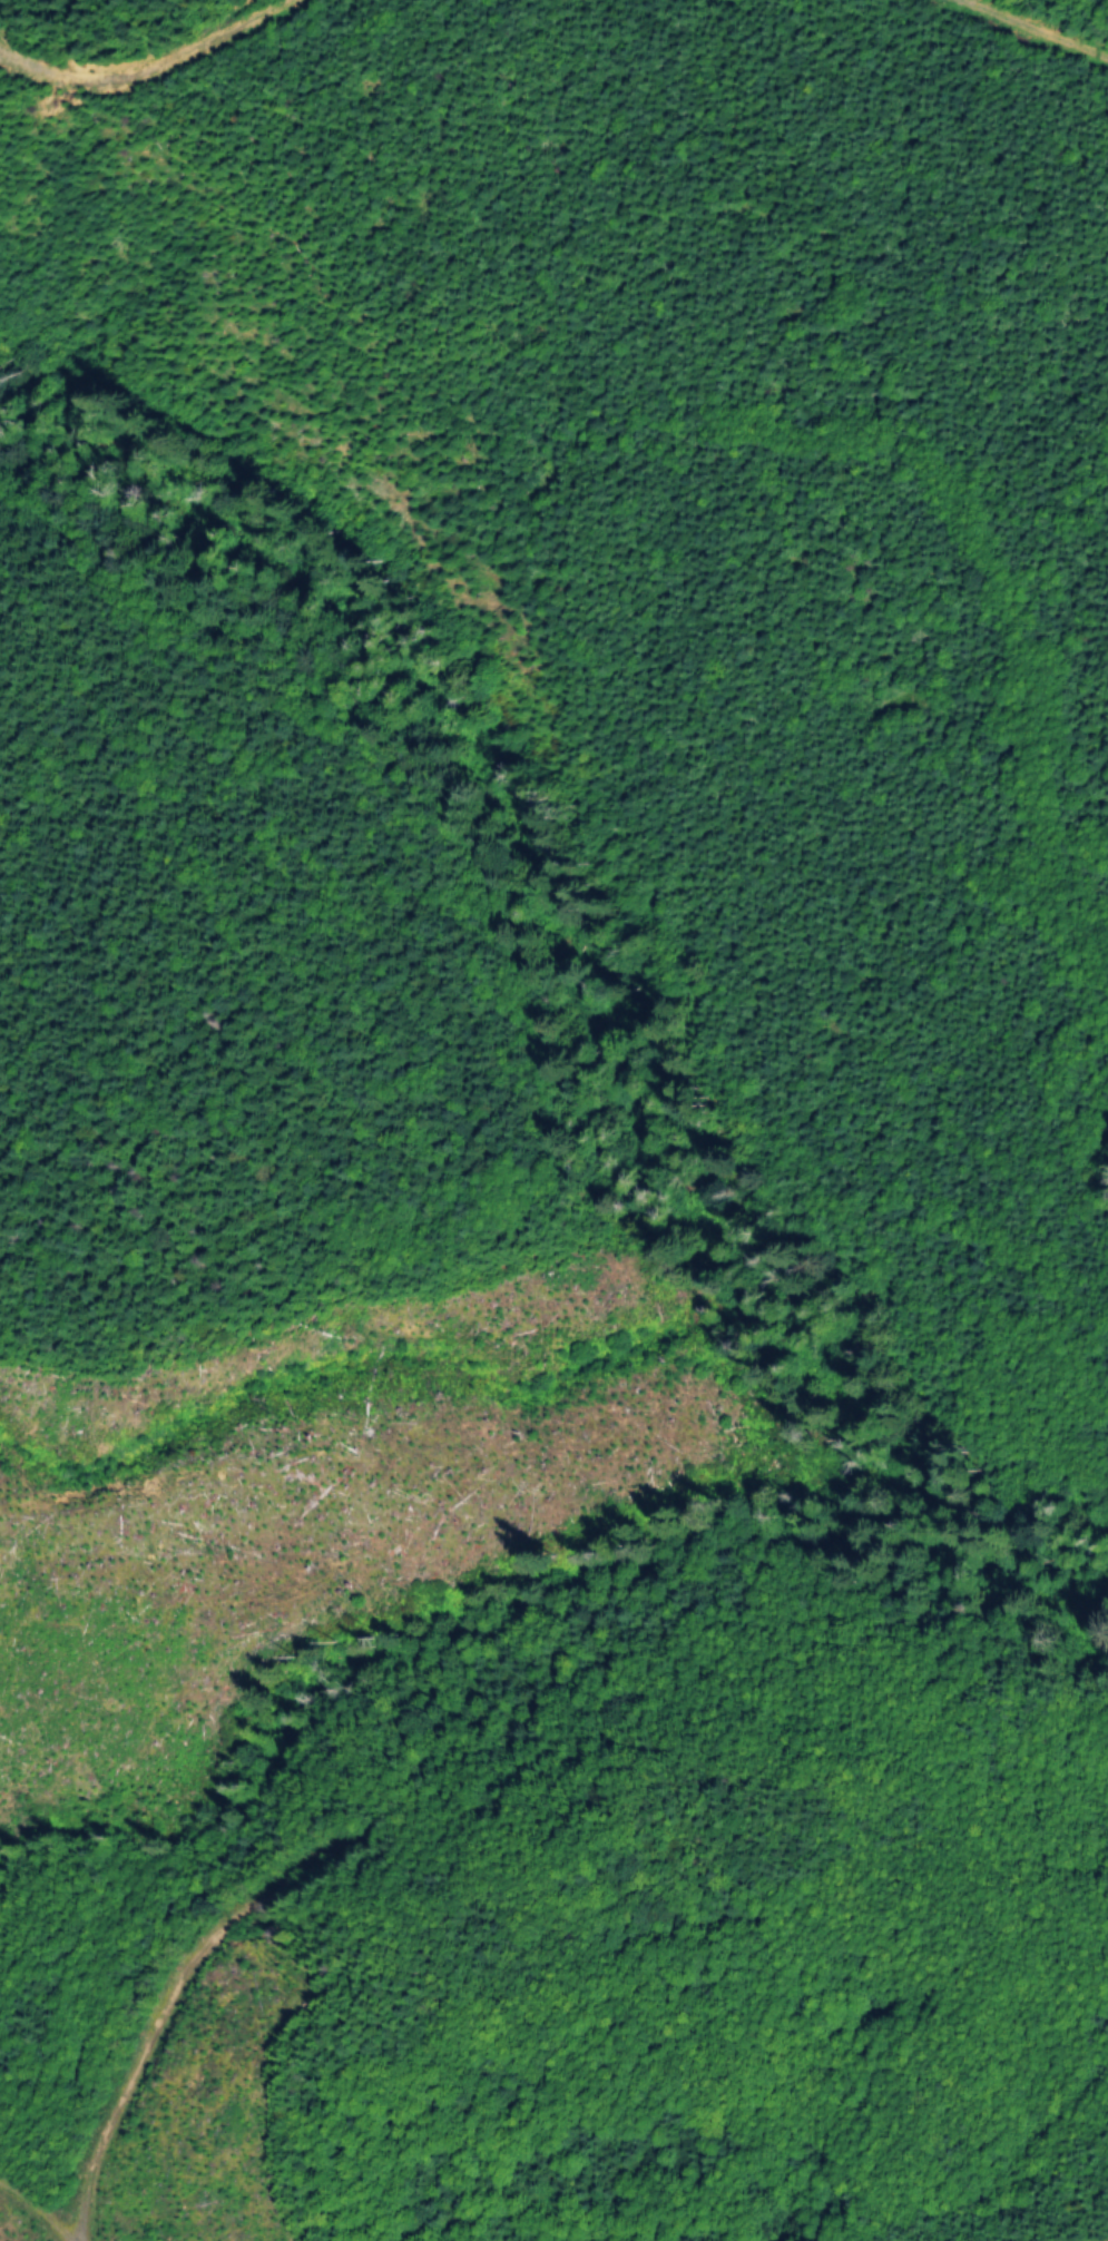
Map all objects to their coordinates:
road: (37, 2205)

